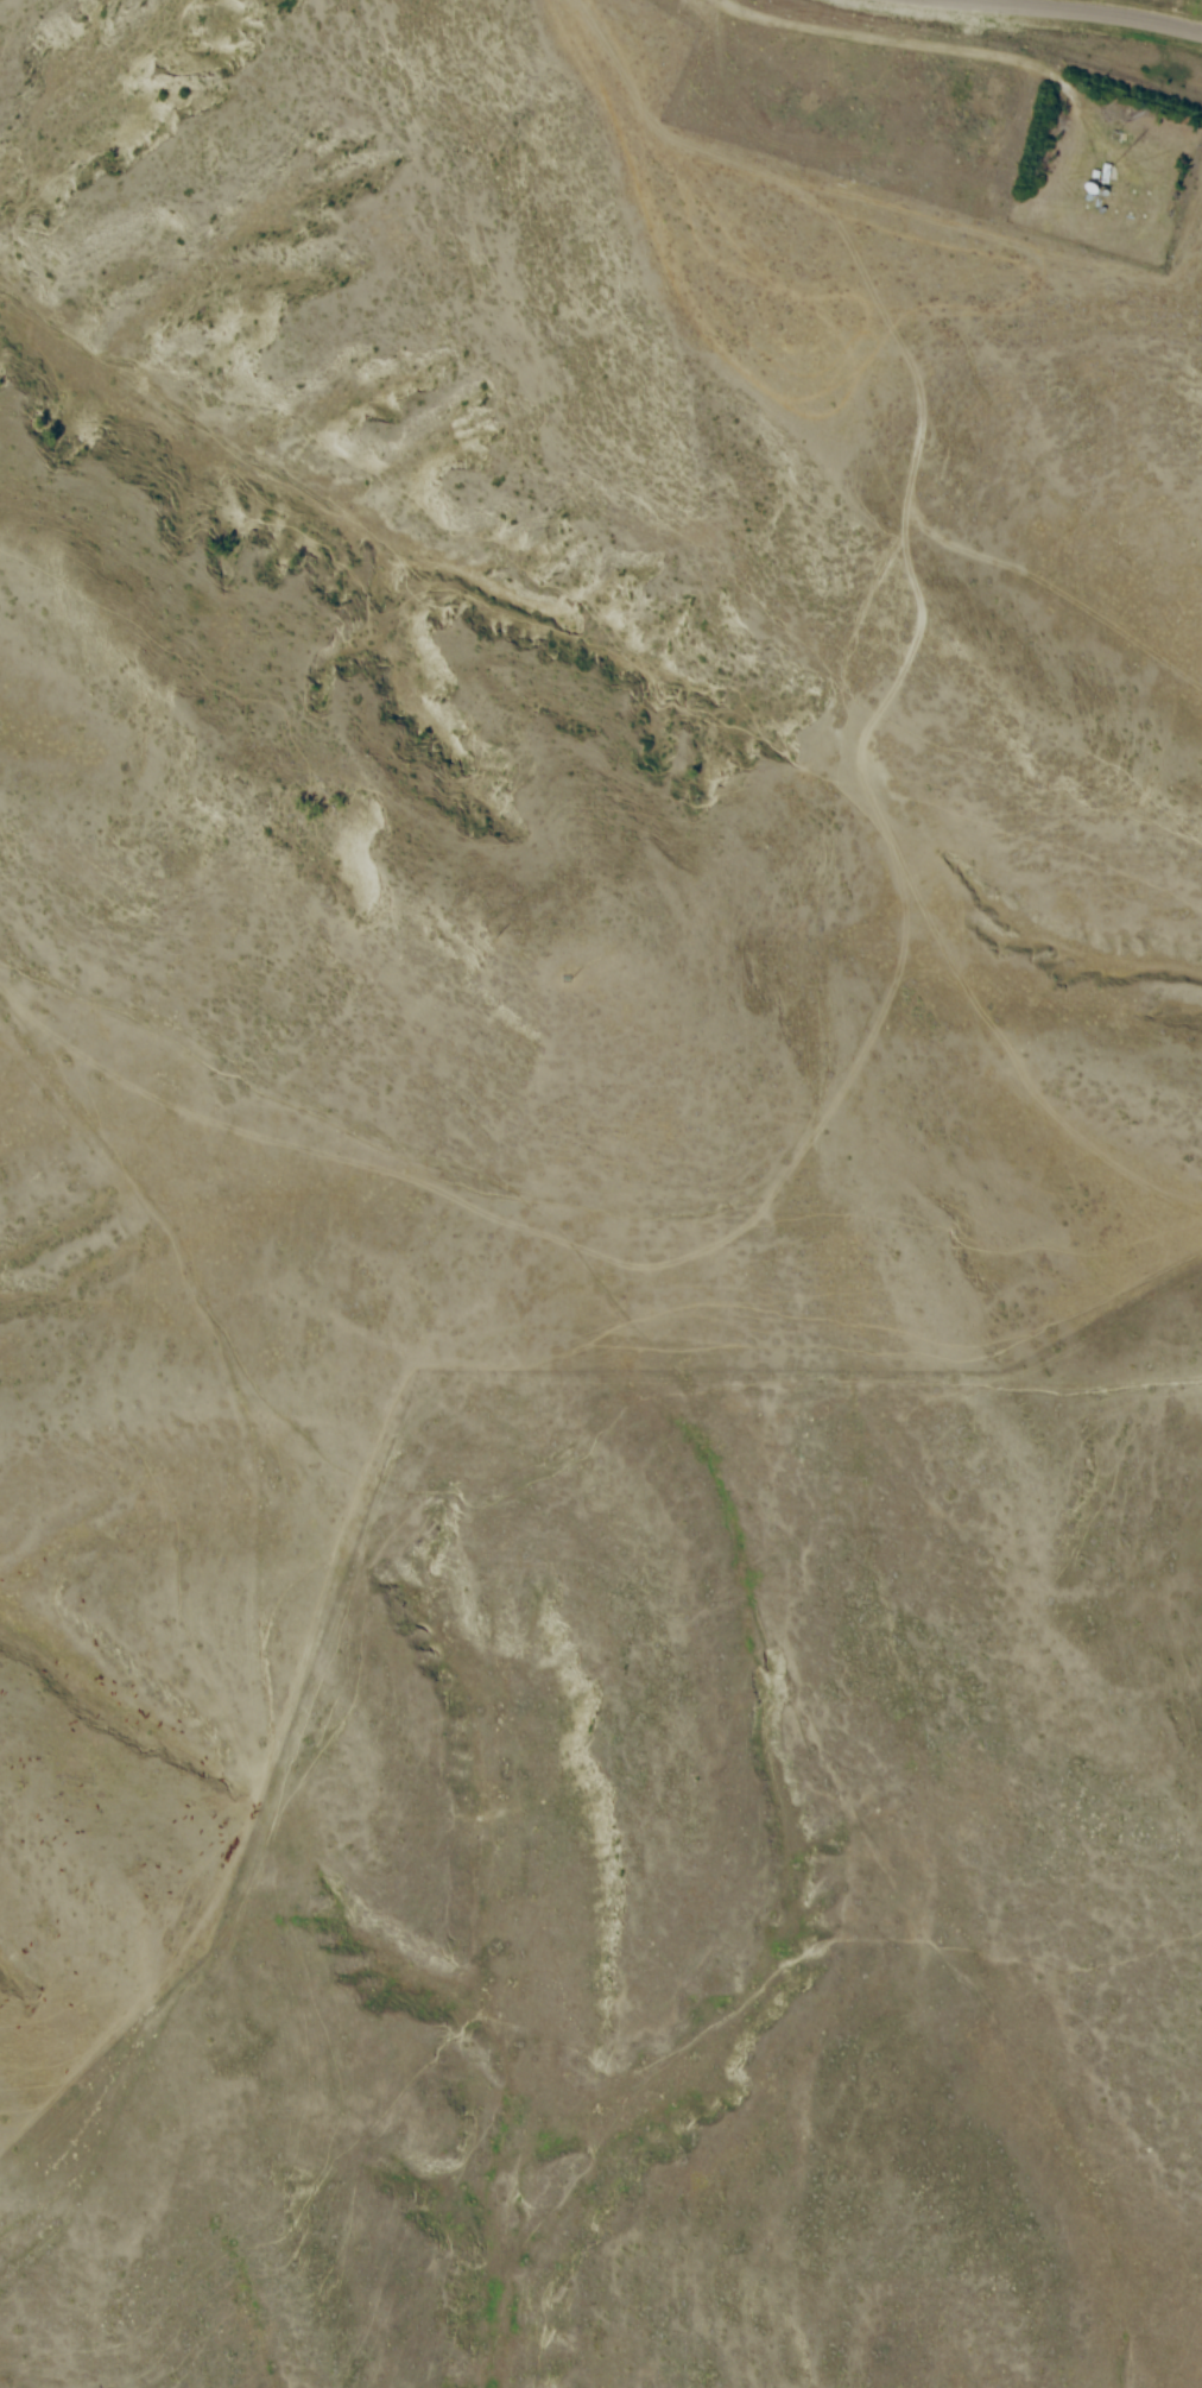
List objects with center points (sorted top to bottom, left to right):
road: (1055, 13)
road: (940, 44)
building: (1108, 173)

